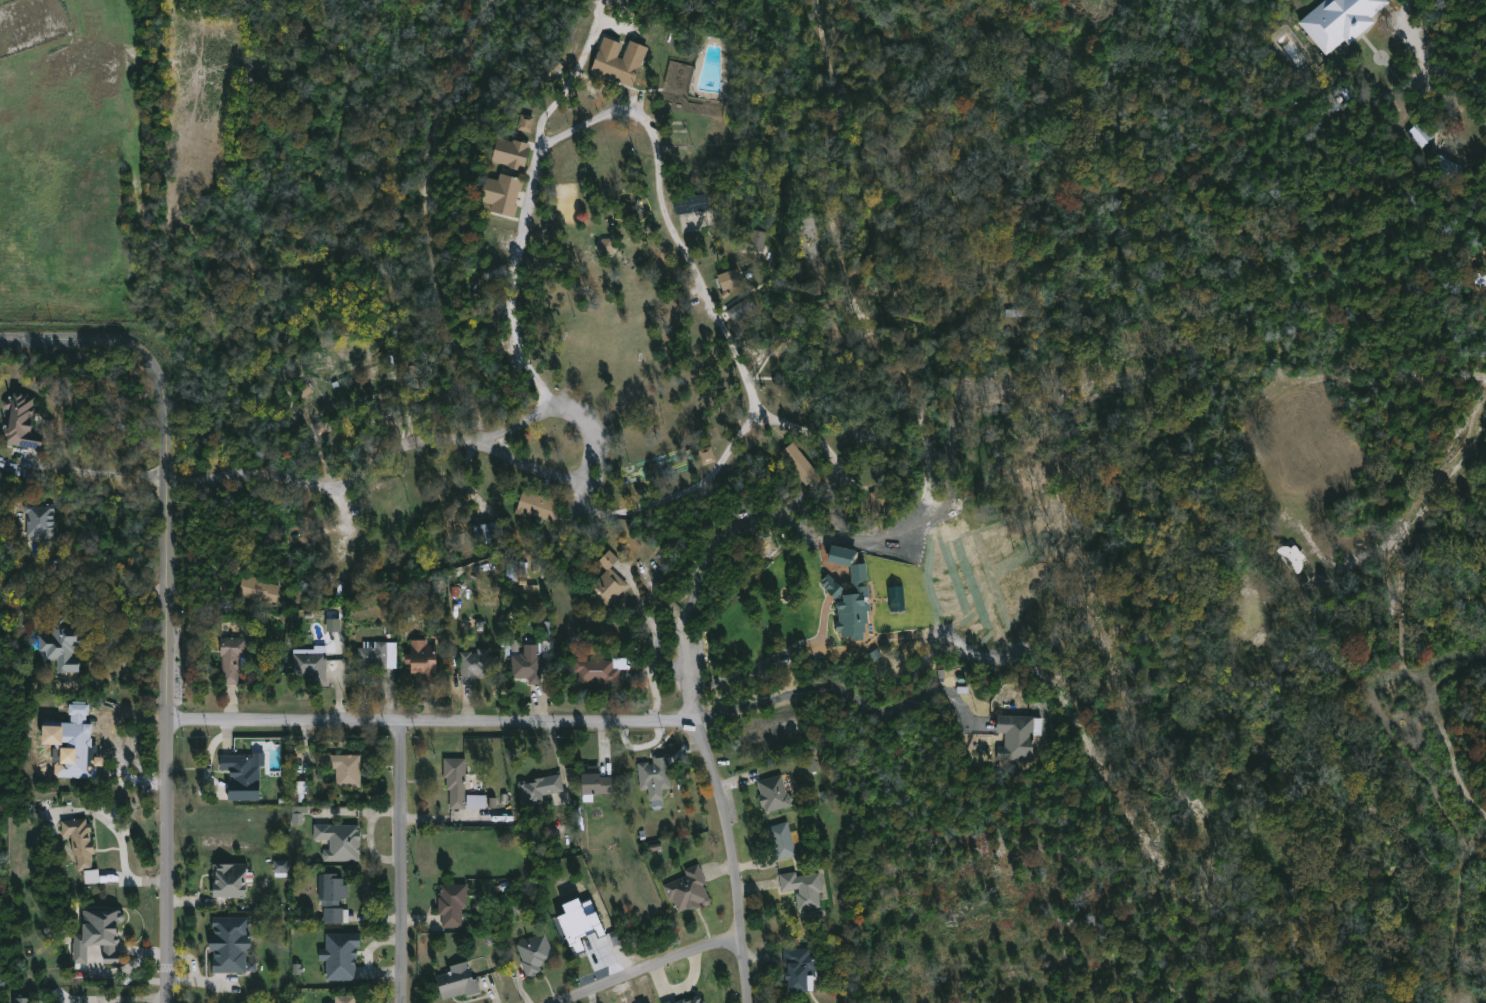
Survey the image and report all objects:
building: (1335, 19)
road: (1410, 23)
building: (615, 65)
building: (553, 70)
building: (680, 89)
building: (525, 123)
building: (1419, 132)
building: (508, 152)
building: (499, 193)
building: (692, 204)
road: (528, 213)
building: (759, 241)
building: (606, 247)
building: (1481, 278)
building: (730, 279)
building: (742, 308)
road: (64, 341)
road: (751, 391)
building: (24, 422)
road: (465, 436)
building: (707, 455)
building: (800, 464)
road: (97, 471)
road: (1277, 488)
road: (583, 497)
building: (883, 500)
building: (530, 505)
road: (740, 511)
building: (42, 520)
building: (484, 533)
building: (841, 556)
building: (607, 580)
building: (262, 590)
building: (850, 603)
building: (334, 625)
road: (652, 644)
building: (65, 645)
building: (236, 659)
building: (374, 659)
building: (420, 660)
building: (526, 664)
road: (168, 666)
building: (313, 666)
building: (477, 666)
road: (755, 669)
building: (598, 670)
road: (686, 675)
road: (842, 690)
road: (428, 723)
building: (1015, 737)
building: (243, 769)
building: (346, 769)
building: (653, 777)
building: (454, 780)
building: (592, 784)
building: (538, 788)
building: (772, 793)
building: (476, 802)
building: (297, 816)
building: (83, 841)
building: (339, 841)
building: (781, 841)
road: (733, 858)
road: (399, 863)
building: (92, 876)
building: (234, 878)
building: (334, 888)
building: (687, 888)
building: (802, 888)
building: (450, 904)
building: (338, 914)
building: (101, 935)
building: (233, 943)
building: (534, 953)
building: (338, 955)
road: (648, 968)
building: (797, 968)
building: (456, 983)
building: (344, 999)
building: (693, 999)
building: (23, 1000)

